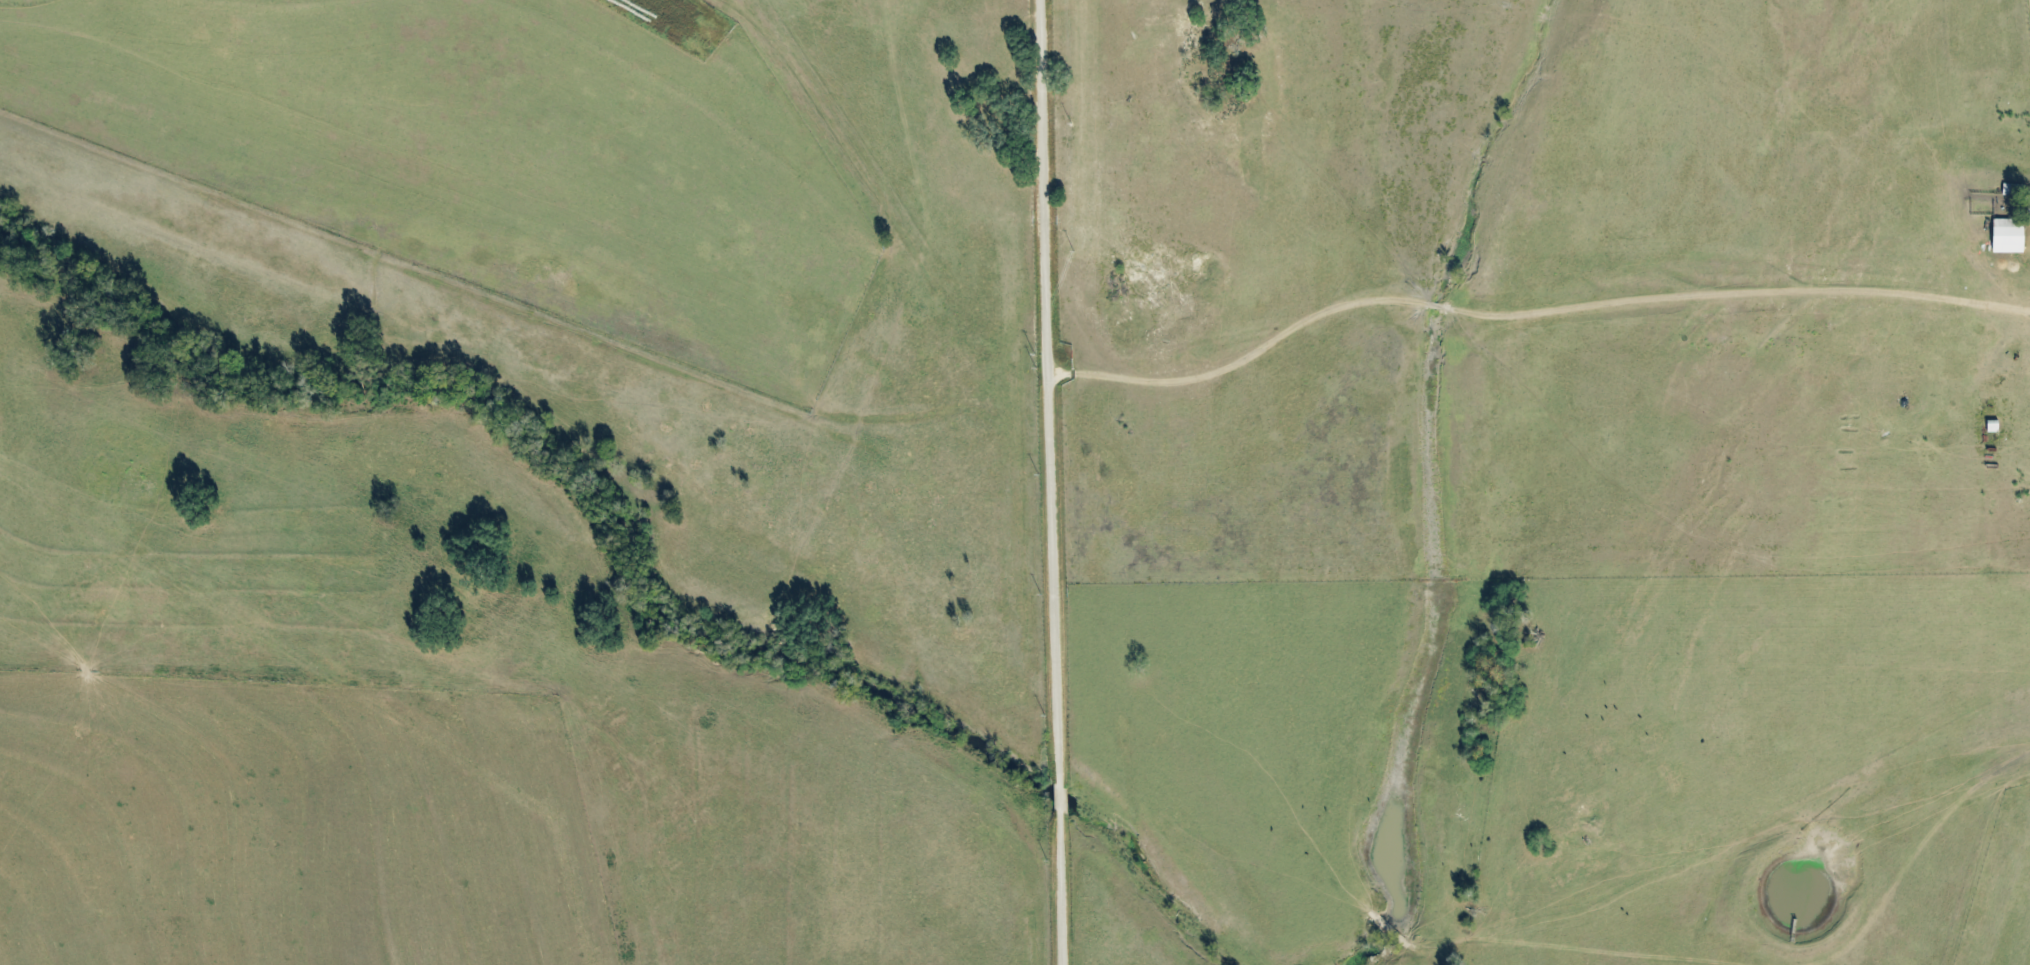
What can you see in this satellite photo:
building: (2029, 204)
building: (2009, 235)
road: (1532, 336)
road: (1057, 482)

